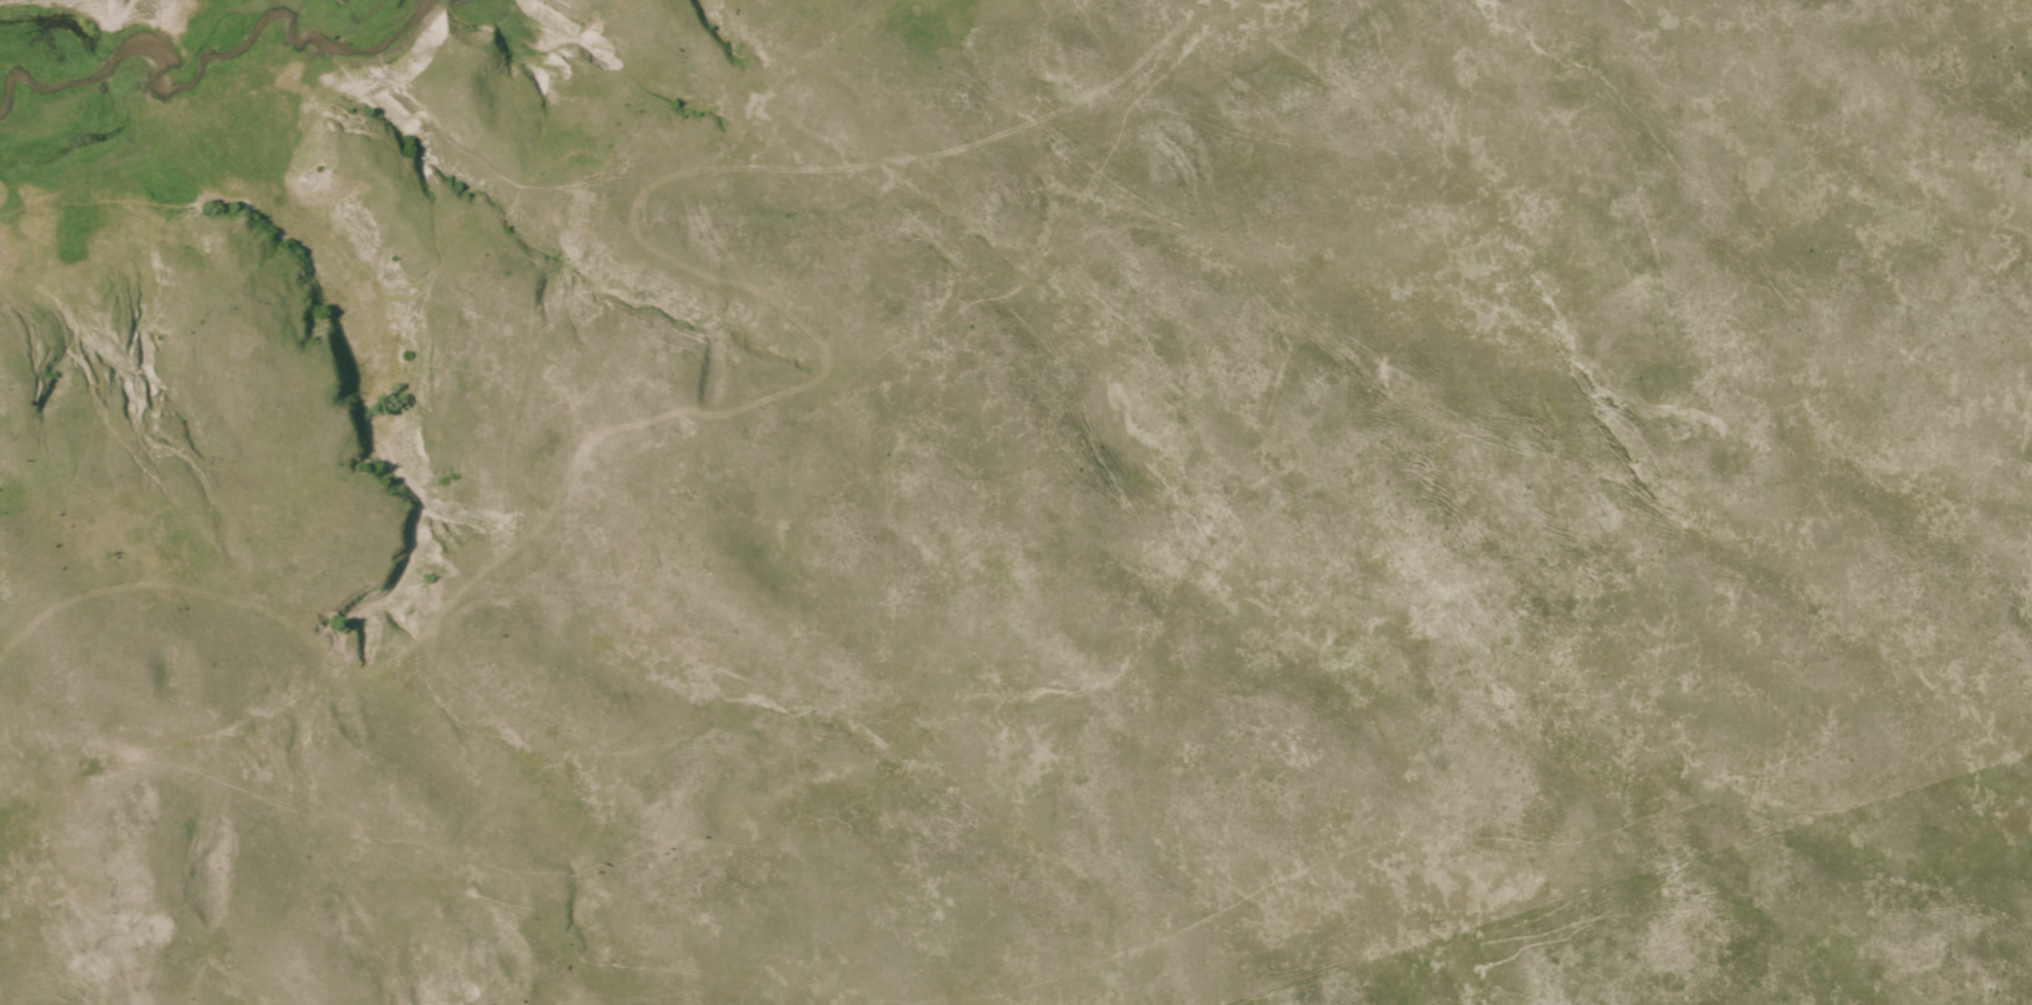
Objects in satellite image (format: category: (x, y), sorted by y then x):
river: (174, 89)

